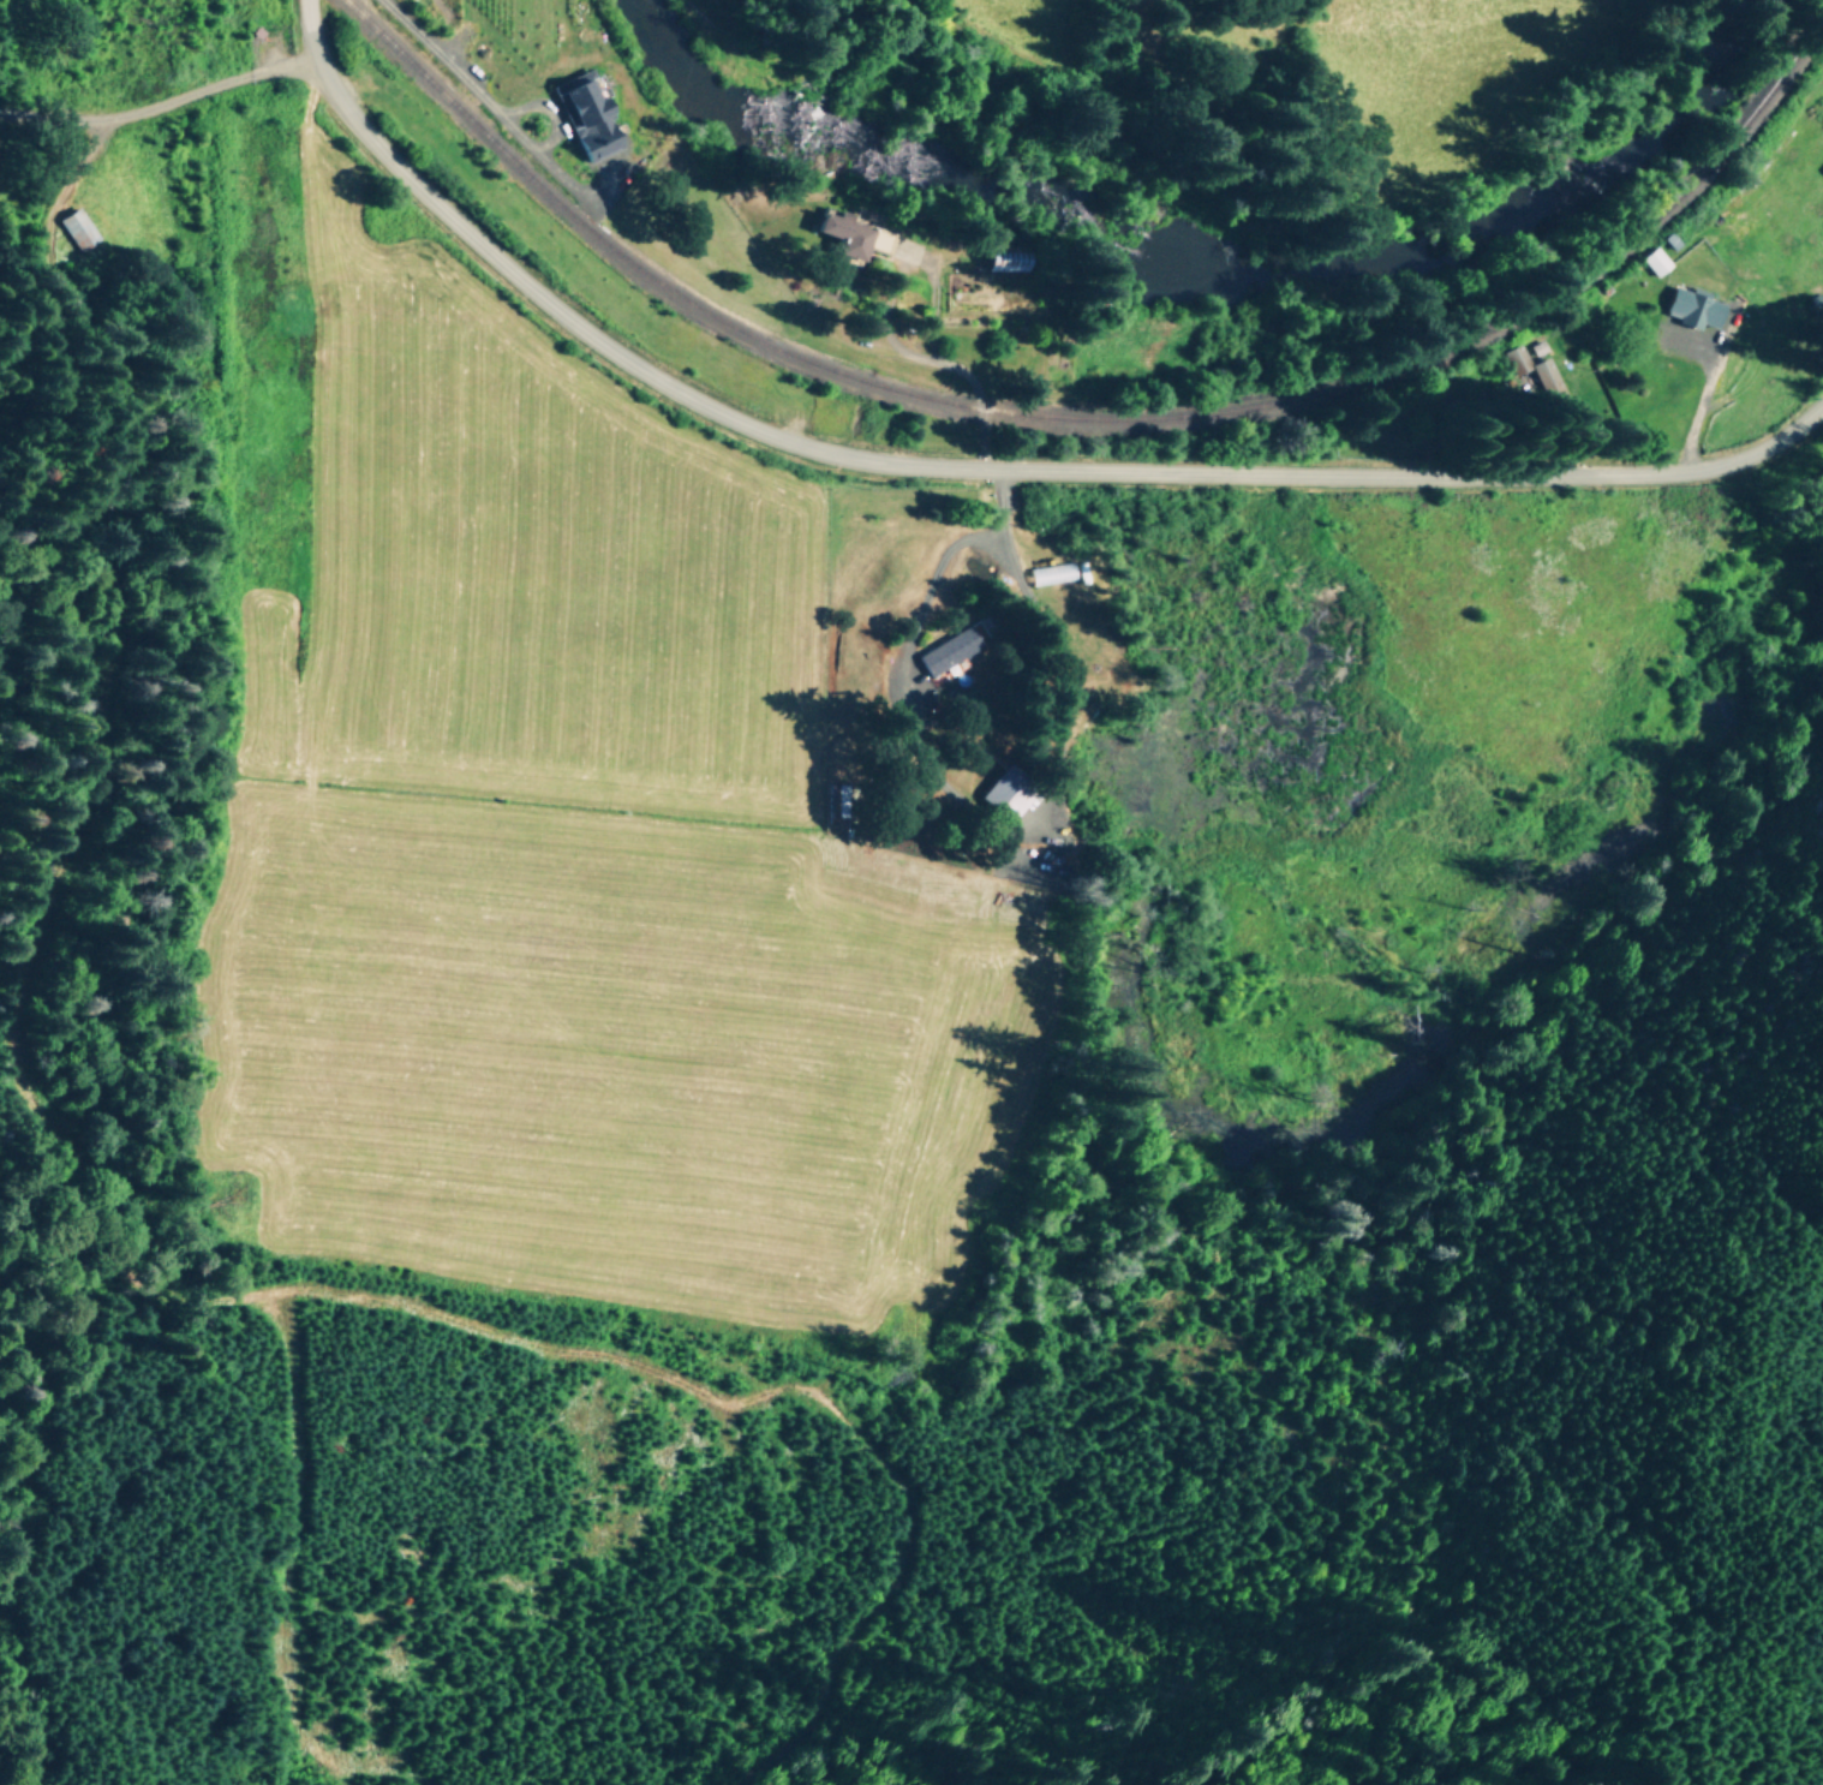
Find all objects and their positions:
road: (464, 86)
road: (148, 95)
building: (585, 118)
building: (77, 227)
building: (841, 234)
building: (879, 239)
building: (1654, 259)
river: (1194, 265)
building: (1692, 306)
road: (886, 330)
building: (1532, 372)
road: (1703, 392)
railway: (1087, 422)
road: (962, 471)
building: (1051, 573)
building: (944, 651)
building: (1004, 792)
road: (951, 794)
building: (837, 799)

